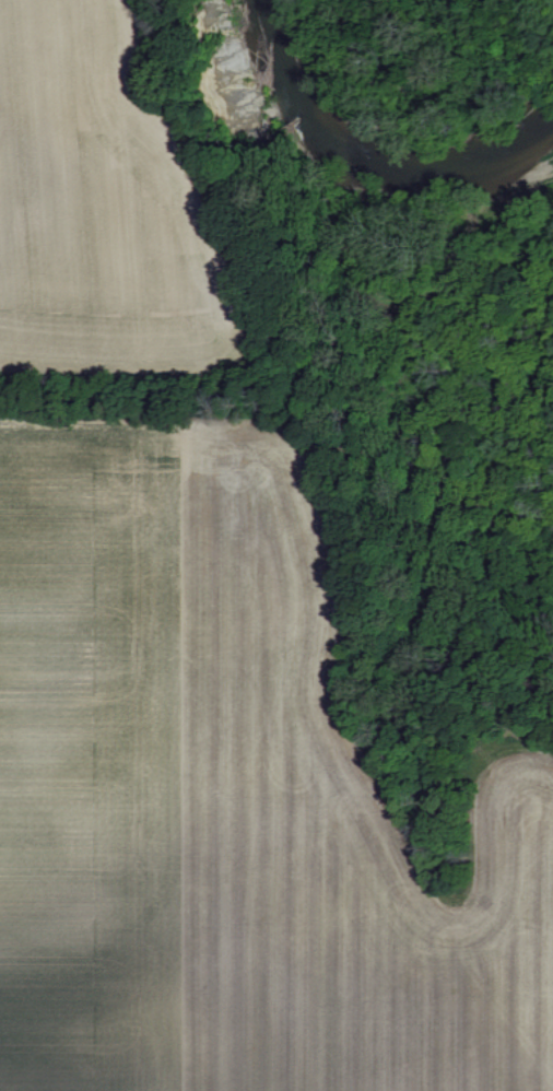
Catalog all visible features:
river: (363, 159)

